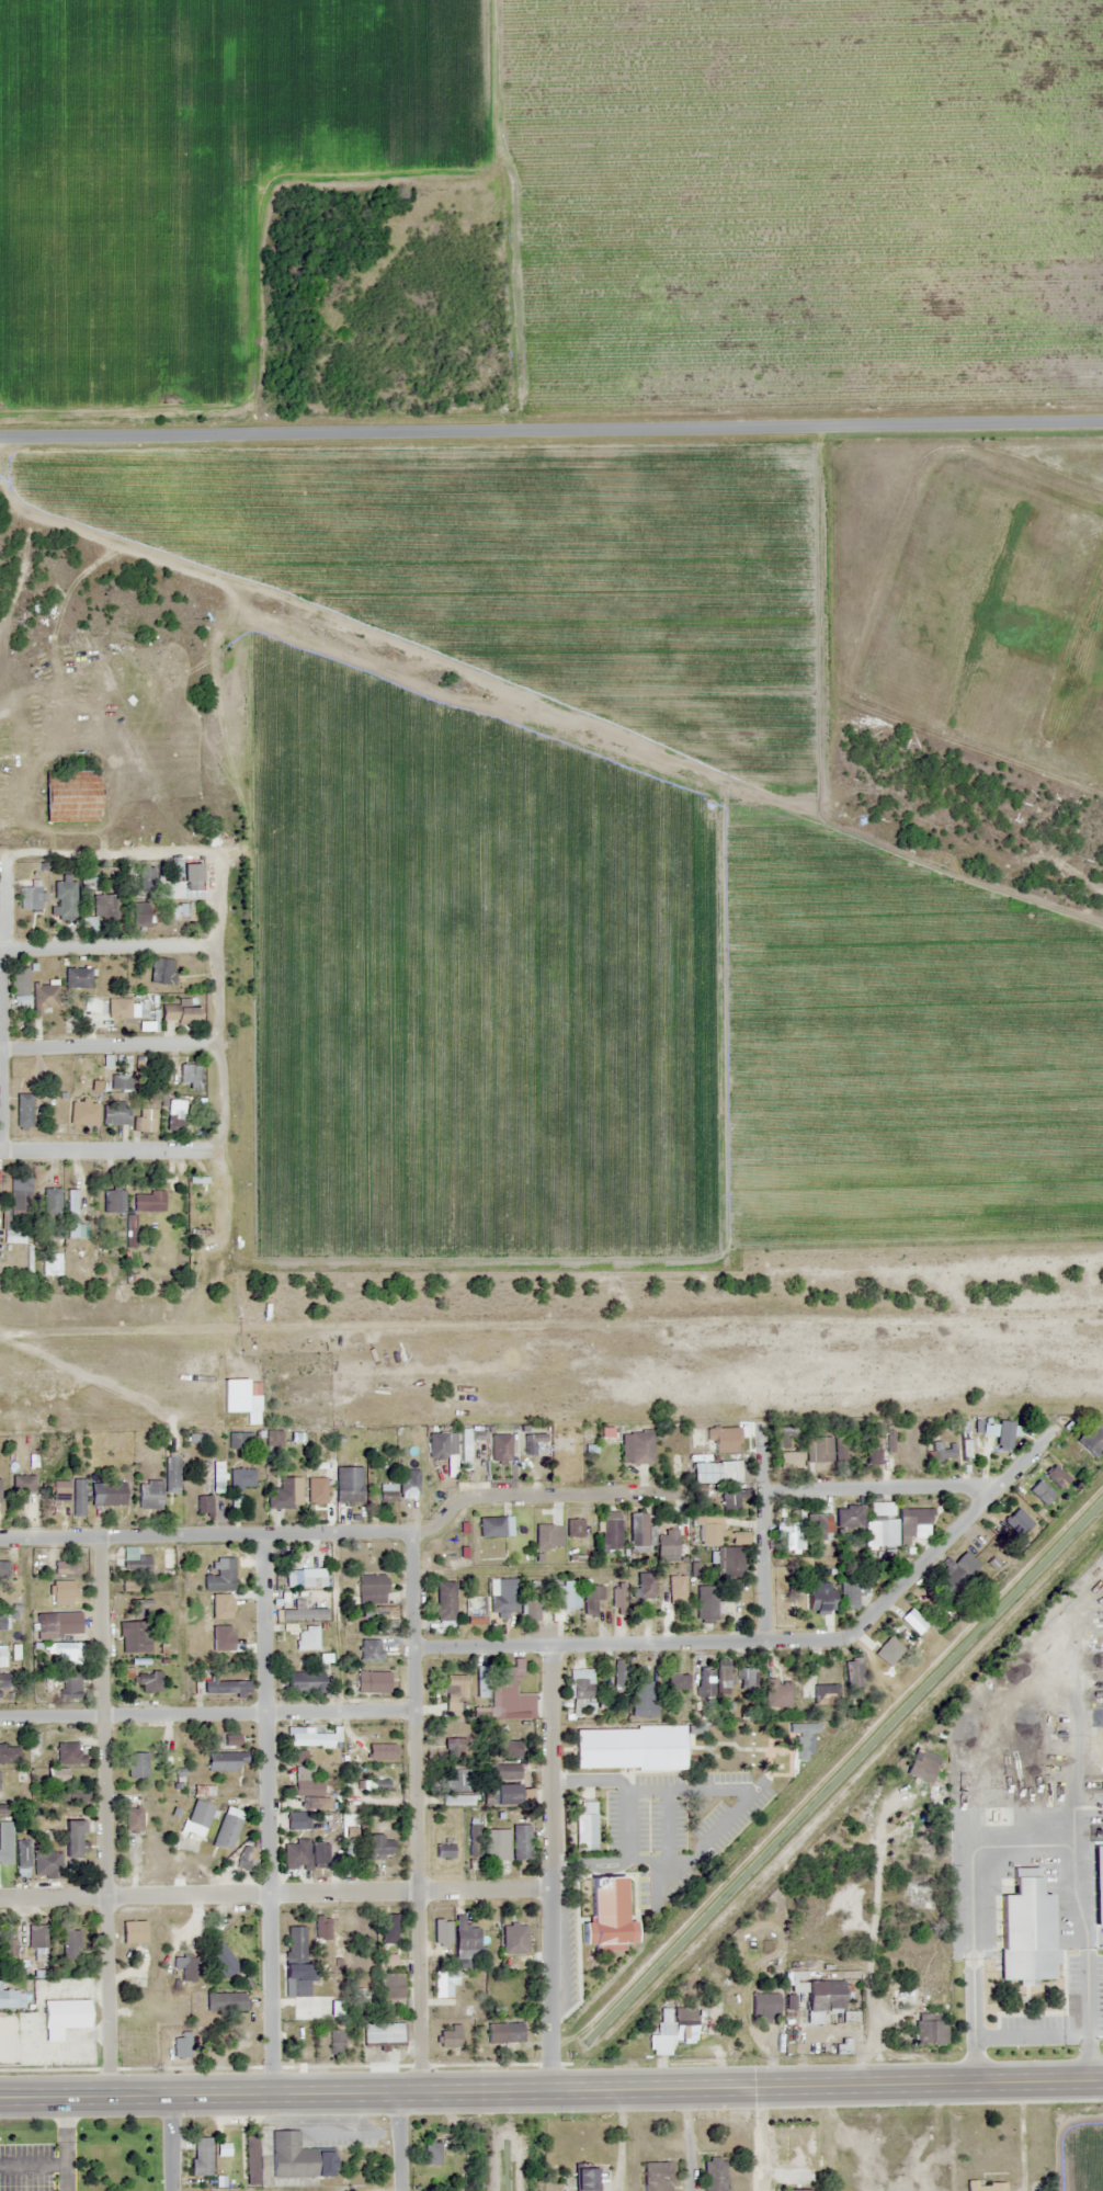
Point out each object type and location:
road: (550, 432)
building: (70, 795)
building: (189, 878)
building: (144, 879)
building: (30, 897)
road: (219, 898)
building: (64, 899)
building: (100, 910)
building: (178, 911)
building: (139, 912)
road: (109, 944)
building: (161, 970)
building: (77, 977)
building: (20, 984)
building: (43, 998)
road: (1, 1004)
building: (92, 1004)
building: (118, 1011)
building: (179, 1014)
road: (109, 1043)
building: (190, 1075)
building: (120, 1082)
building: (81, 1099)
building: (23, 1111)
building: (113, 1112)
building: (175, 1113)
building: (146, 1117)
road: (103, 1149)
building: (49, 1201)
building: (113, 1201)
building: (148, 1202)
building: (21, 1203)
building: (198, 1206)
building: (70, 1213)
railway: (551, 1319)
building: (782, 1435)
building: (273, 1438)
building: (721, 1439)
building: (239, 1440)
building: (1091, 1440)
building: (532, 1441)
building: (437, 1444)
building: (639, 1446)
building: (830, 1446)
building: (499, 1448)
building: (464, 1449)
building: (942, 1450)
building: (872, 1453)
building: (788, 1458)
building: (171, 1471)
building: (705, 1472)
building: (217, 1476)
building: (241, 1477)
building: (1055, 1477)
building: (22, 1483)
building: (348, 1484)
building: (409, 1484)
road: (880, 1485)
building: (59, 1490)
building: (386, 1491)
building: (317, 1492)
building: (1039, 1492)
building: (106, 1494)
building: (284, 1494)
building: (148, 1495)
building: (77, 1496)
building: (729, 1498)
building: (203, 1503)
building: (849, 1517)
building: (1015, 1521)
building: (492, 1525)
building: (818, 1526)
building: (899, 1526)
building: (573, 1528)
road: (763, 1529)
road: (345, 1530)
building: (611, 1530)
building: (639, 1530)
building: (709, 1533)
building: (547, 1535)
building: (792, 1535)
building: (667, 1544)
building: (378, 1548)
building: (141, 1560)
building: (729, 1560)
building: (64, 1567)
building: (2, 1568)
building: (957, 1571)
building: (219, 1576)
building: (304, 1580)
building: (128, 1585)
building: (371, 1585)
building: (645, 1586)
building: (676, 1587)
building: (61, 1592)
building: (851, 1593)
building: (504, 1596)
building: (565, 1596)
building: (296, 1597)
building: (617, 1597)
building: (593, 1598)
building: (443, 1600)
building: (530, 1603)
building: (709, 1604)
building: (816, 1605)
building: (784, 1609)
building: (295, 1614)
building: (475, 1614)
building: (911, 1620)
building: (3, 1621)
building: (58, 1624)
building: (133, 1636)
building: (298, 1638)
road: (777, 1638)
building: (886, 1648)
building: (369, 1650)
building: (64, 1651)
building: (2, 1656)
building: (323, 1658)
building: (853, 1672)
building: (621, 1675)
building: (3, 1680)
building: (724, 1680)
building: (750, 1680)
building: (47, 1681)
building: (146, 1681)
building: (302, 1681)
building: (371, 1681)
building: (480, 1681)
building: (676, 1681)
building: (705, 1681)
building: (67, 1684)
building: (503, 1684)
building: (223, 1688)
building: (581, 1689)
building: (454, 1691)
building: (825, 1693)
building: (777, 1694)
building: (641, 1698)
road: (207, 1712)
building: (306, 1737)
building: (230, 1739)
building: (751, 1740)
building: (628, 1747)
building: (454, 1748)
building: (379, 1749)
building: (507, 1749)
building: (9, 1753)
building: (68, 1753)
building: (751, 1759)
building: (223, 1760)
building: (135, 1764)
building: (921, 1764)
building: (502, 1770)
building: (56, 1774)
building: (456, 1779)
building: (377, 1783)
building: (305, 1784)
building: (504, 1793)
building: (75, 1794)
building: (456, 1800)
building: (297, 1804)
road: (417, 1809)
building: (198, 1813)
road: (268, 1813)
road: (106, 1816)
building: (133, 1820)
building: (296, 1823)
building: (584, 1825)
building: (225, 1831)
building: (70, 1838)
building: (521, 1841)
building: (494, 1843)
building: (377, 1846)
building: (443, 1850)
building: (304, 1853)
building: (245, 1857)
building: (22, 1858)
building: (46, 1864)
road: (550, 1866)
building: (621, 1886)
road: (275, 1891)
building: (1098, 1901)
building: (328, 1926)
building: (1023, 1927)
building: (387, 1928)
building: (441, 1929)
building: (133, 1931)
building: (464, 1934)
building: (36, 1935)
building: (513, 1938)
building: (70, 1943)
building: (8, 1946)
building: (295, 1954)
building: (338, 1955)
building: (386, 1959)
building: (221, 1961)
building: (26, 1965)
building: (187, 1967)
building: (444, 1983)
building: (391, 1986)
building: (327, 1995)
building: (822, 1995)
building: (357, 1996)
building: (903, 1997)
building: (8, 1998)
building: (226, 2001)
building: (763, 2007)
building: (709, 2012)
building: (969, 2014)
building: (61, 2017)
building: (680, 2023)
building: (929, 2029)
building: (503, 2032)
building: (382, 2033)
building: (448, 2036)
building: (334, 2039)
building: (817, 2045)
building: (180, 2046)
building: (300, 2051)
road: (551, 2089)
road: (398, 2142)
road: (169, 2144)
building: (431, 2152)
building: (200, 2155)
building: (291, 2156)
building: (250, 2159)
building: (714, 2173)
building: (656, 2176)
building: (584, 2179)
building: (985, 2186)
building: (797, 2190)

